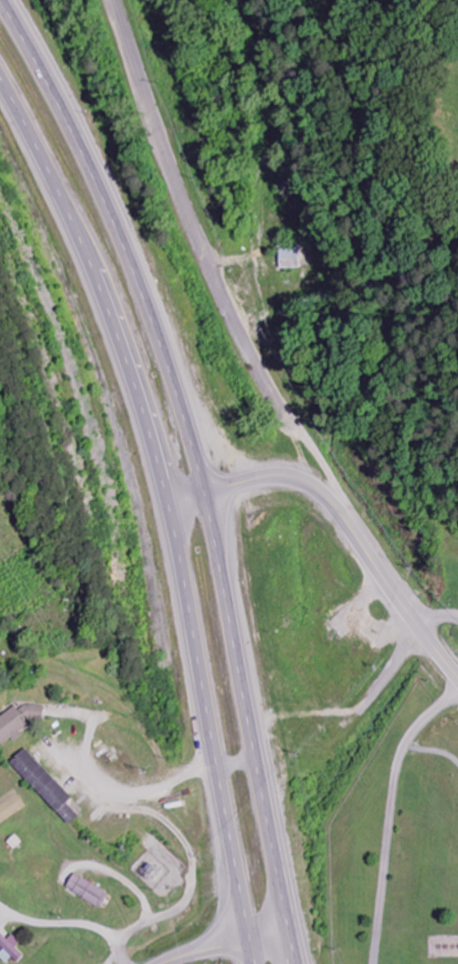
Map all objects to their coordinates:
road: (123, 239)
building: (290, 259)
road: (211, 270)
road: (92, 291)
road: (183, 499)
road: (355, 535)
road: (449, 617)
road: (431, 623)
road: (251, 711)
road: (205, 722)
building: (16, 723)
building: (43, 785)
building: (86, 891)
road: (229, 944)
road: (297, 947)
building: (8, 949)
road: (251, 952)

